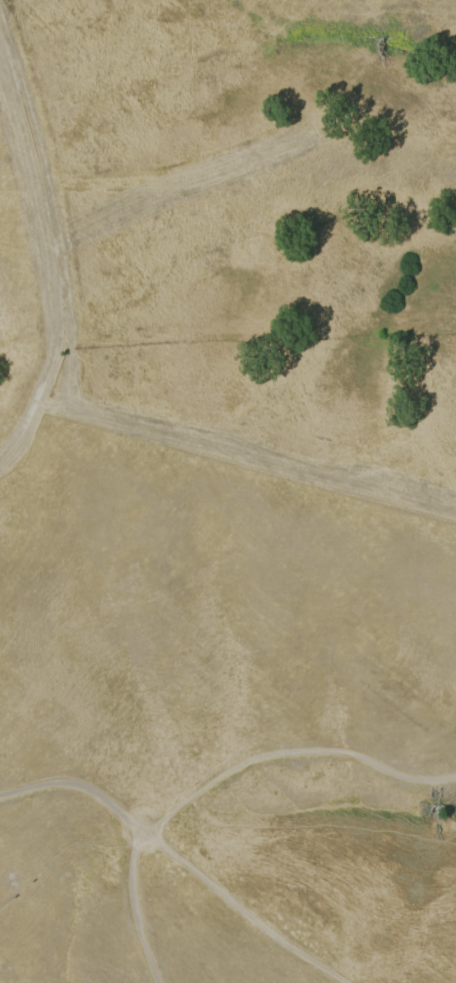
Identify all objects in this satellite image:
road: (216, 781)
road: (183, 859)

